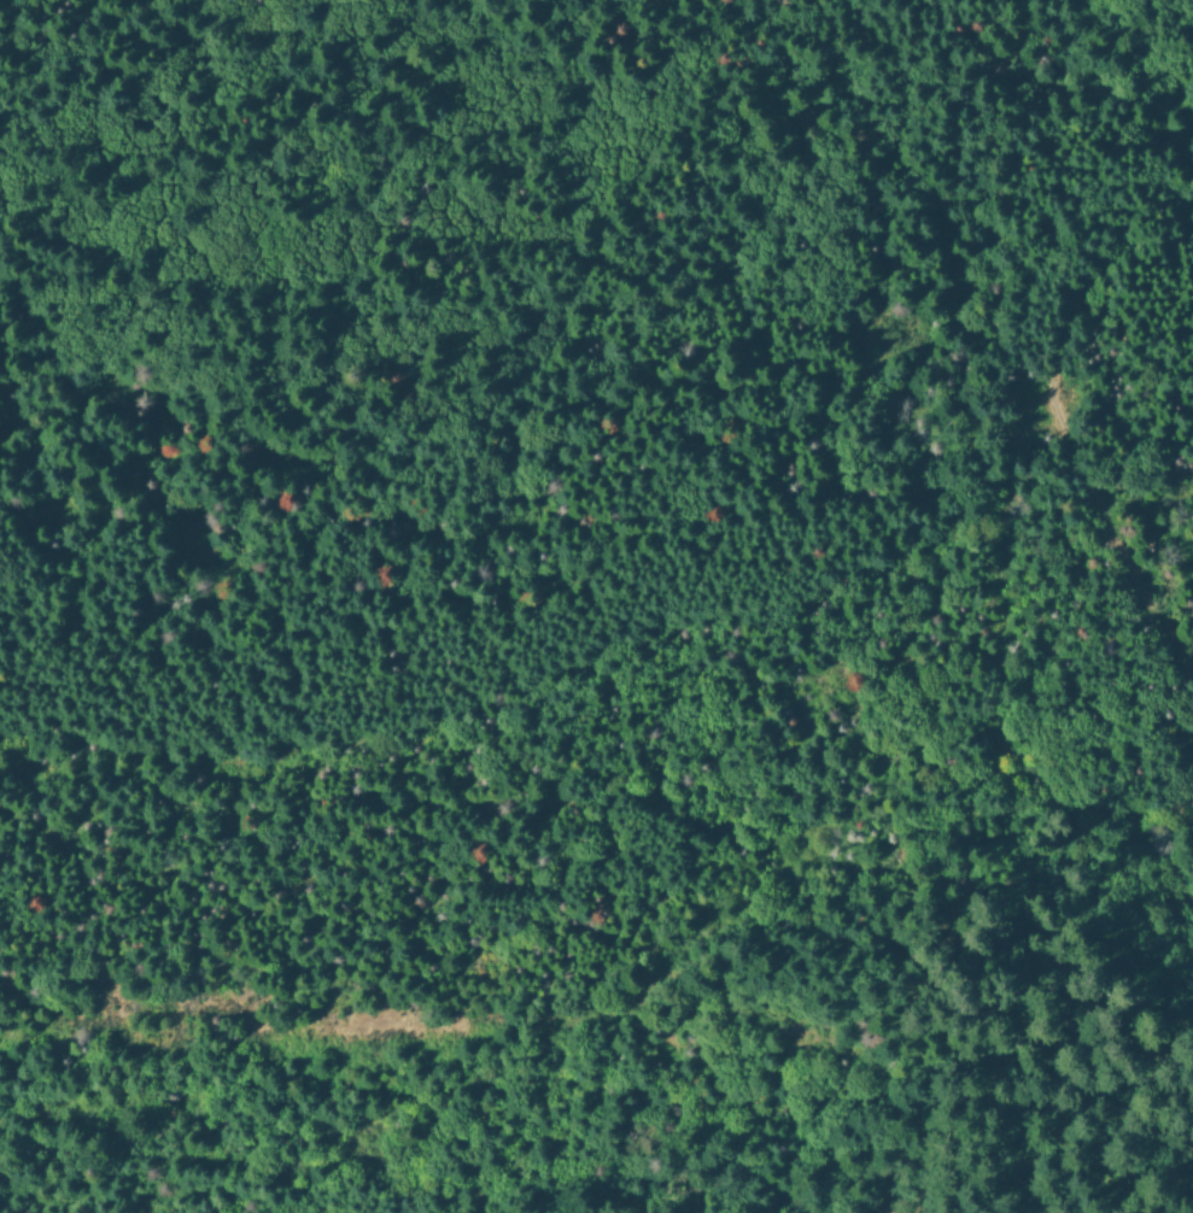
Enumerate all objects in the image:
road: (1059, 424)

